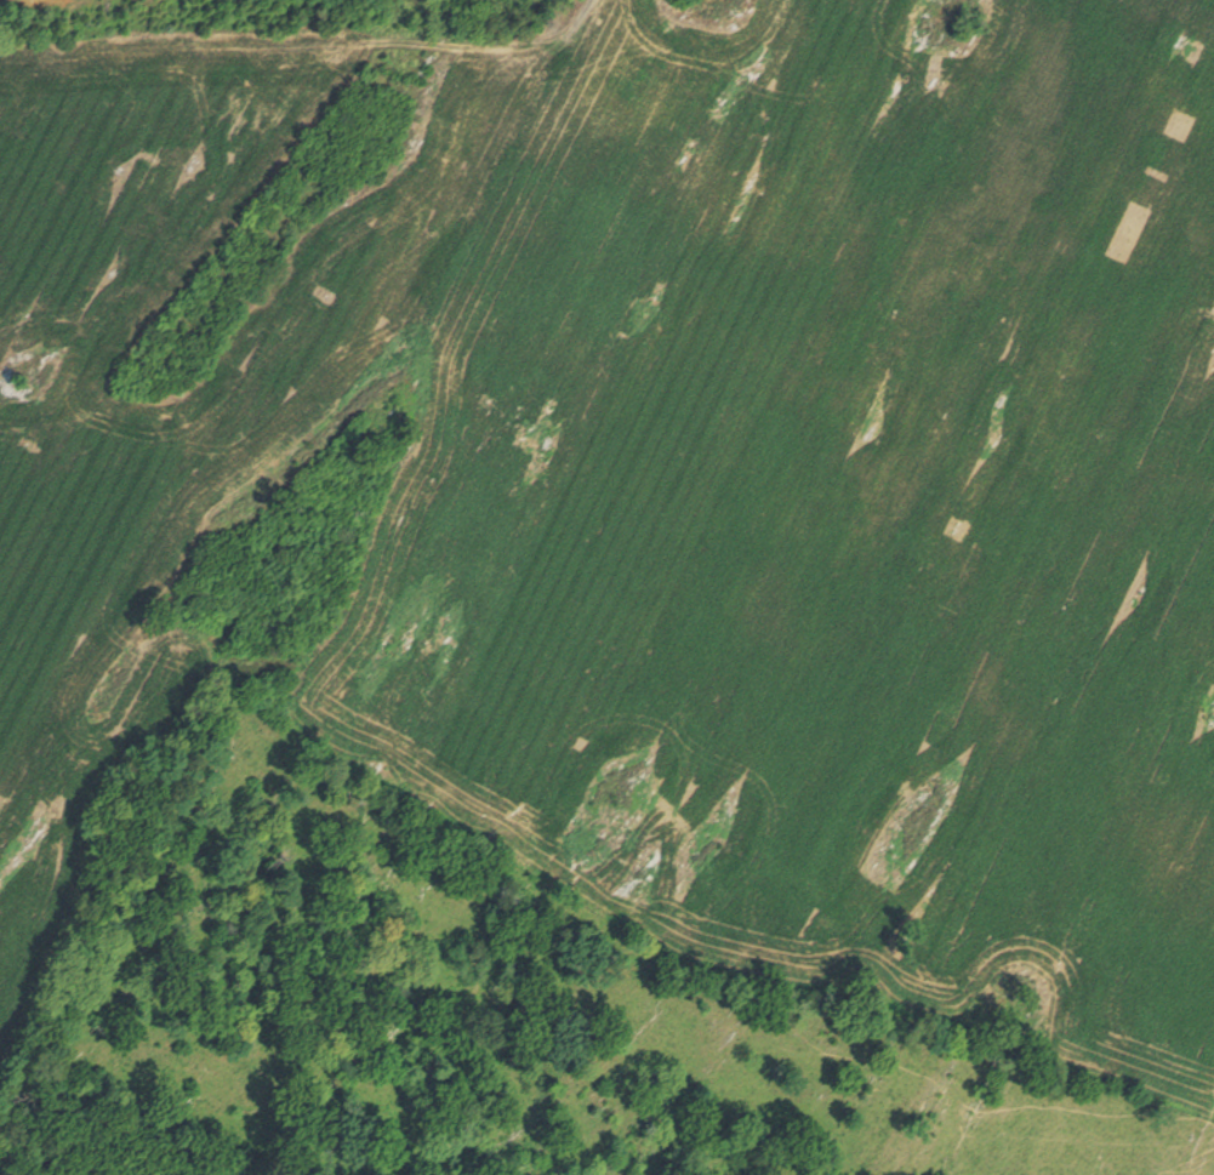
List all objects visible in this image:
park: (272, 18)
road: (285, 577)

